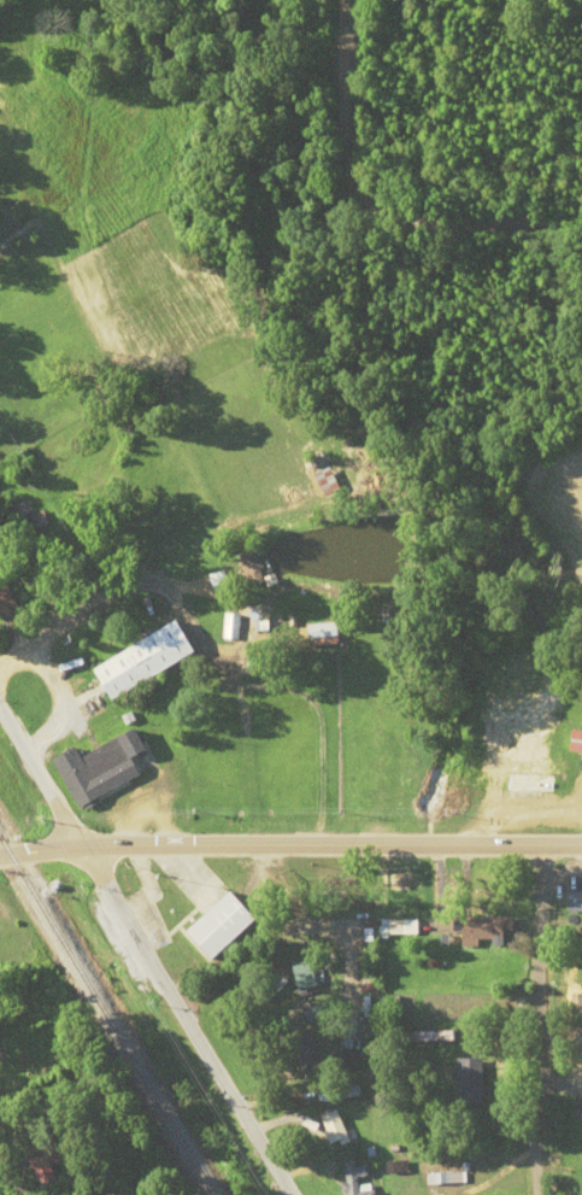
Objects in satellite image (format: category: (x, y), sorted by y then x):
road: (366, 210)
building: (328, 481)
building: (254, 568)
building: (11, 603)
road: (135, 605)
building: (233, 625)
building: (149, 660)
building: (576, 742)
road: (424, 761)
building: (105, 766)
road: (41, 773)
building: (531, 784)
road: (290, 839)
building: (575, 900)
building: (170, 908)
road: (206, 913)
building: (399, 926)
road: (512, 953)
building: (575, 995)
railway: (106, 1013)
road: (186, 1018)
building: (429, 1036)
building: (302, 1053)
road: (547, 1067)
building: (470, 1080)
road: (29, 1108)
building: (333, 1127)
building: (52, 1154)
building: (357, 1179)

